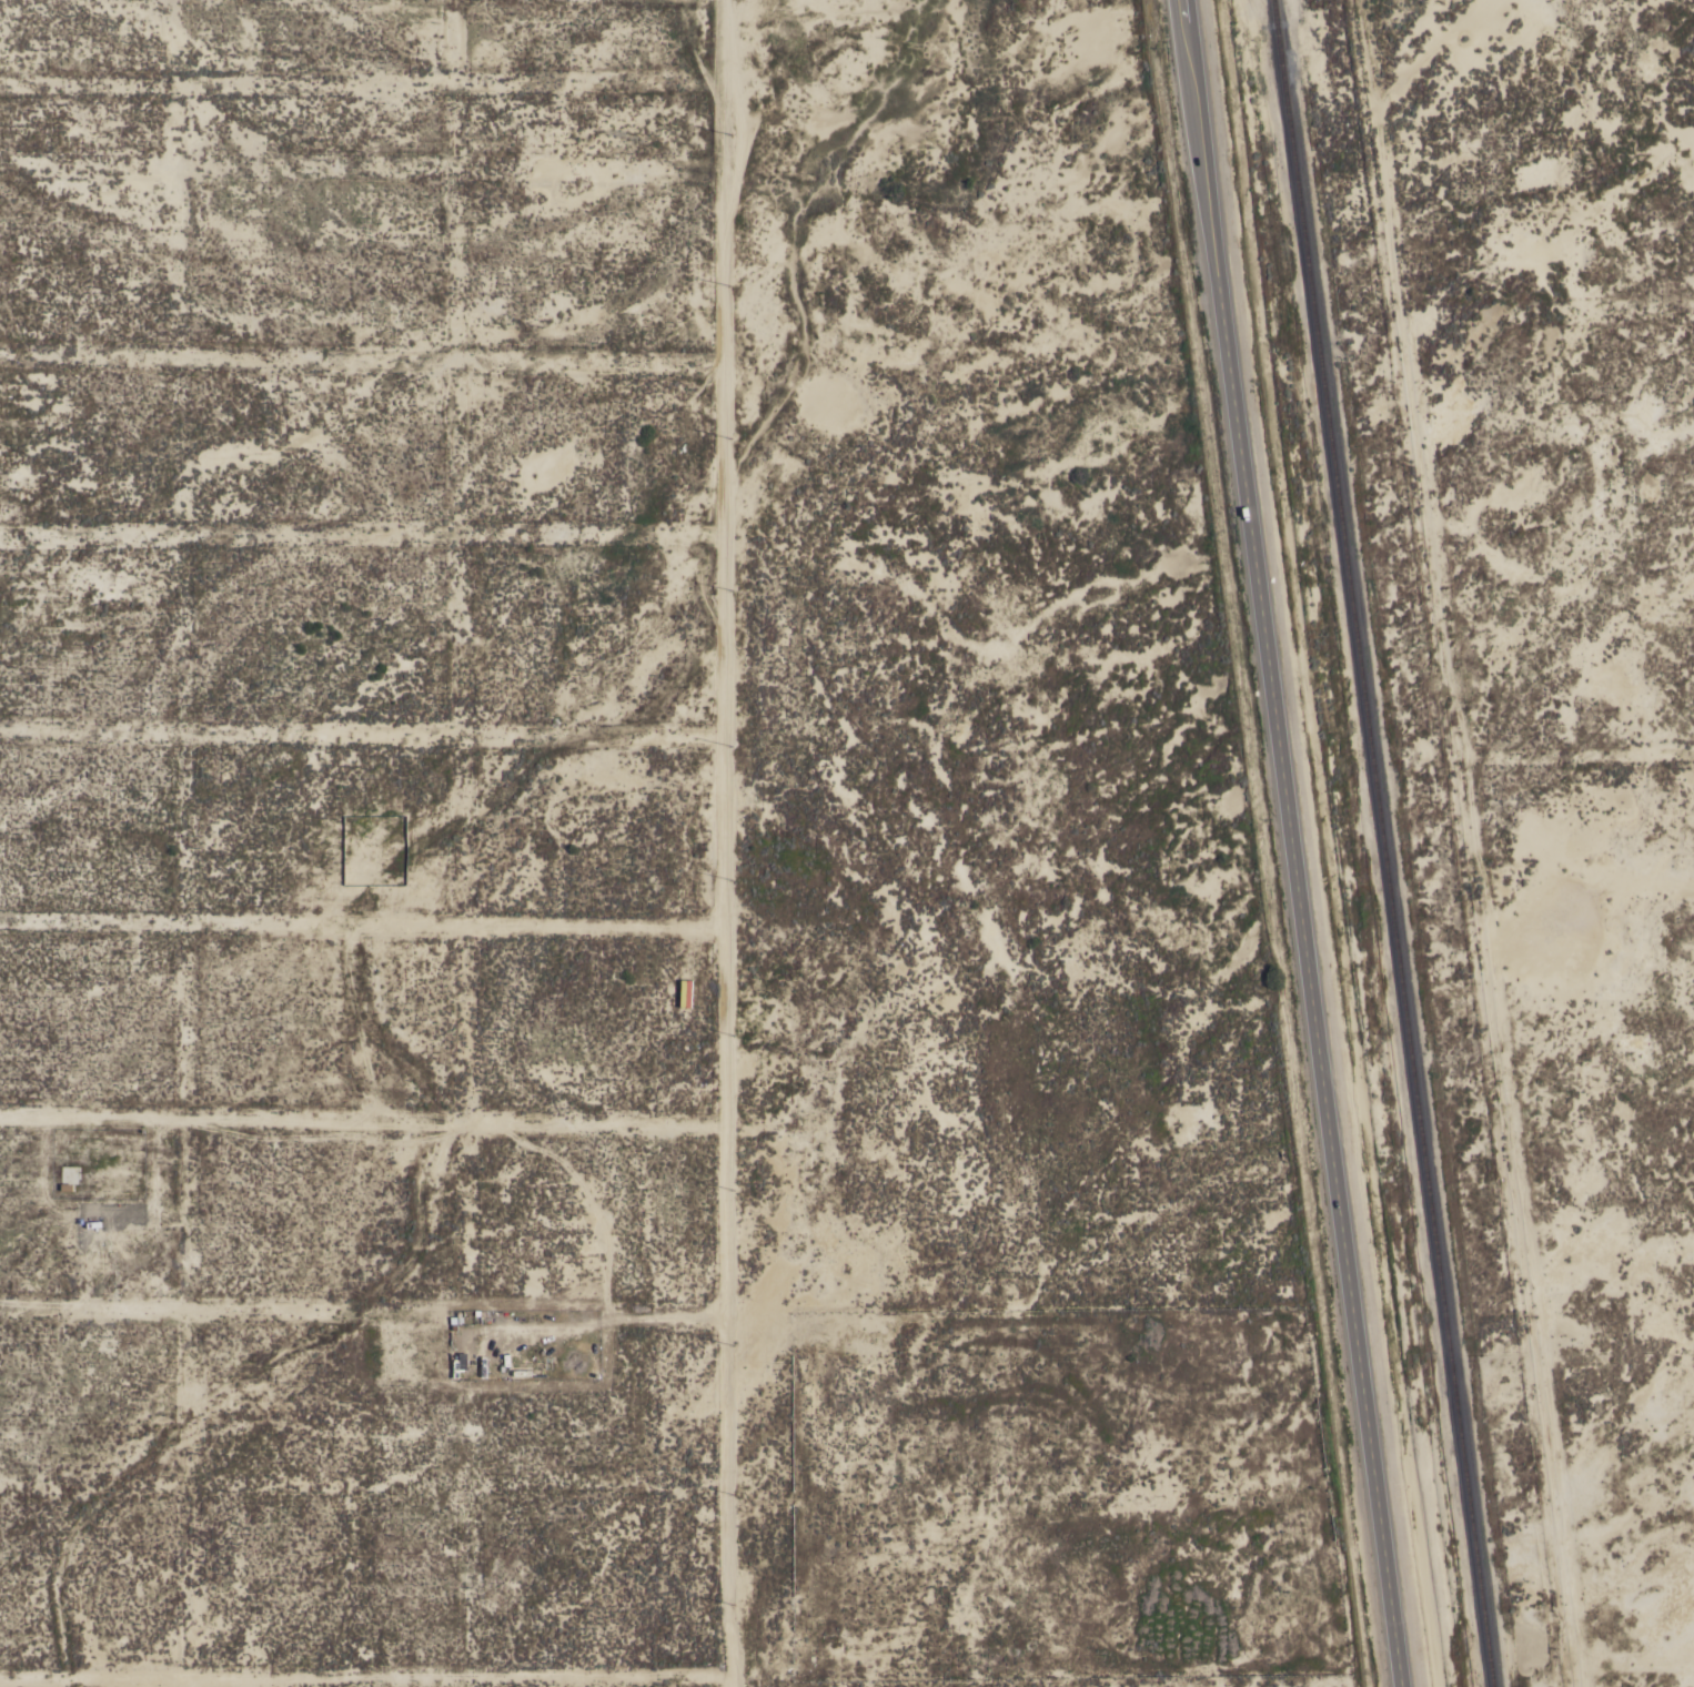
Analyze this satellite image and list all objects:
road: (1466, 842)
road: (719, 843)
road: (1293, 843)
railway: (1382, 843)
road: (361, 1679)

